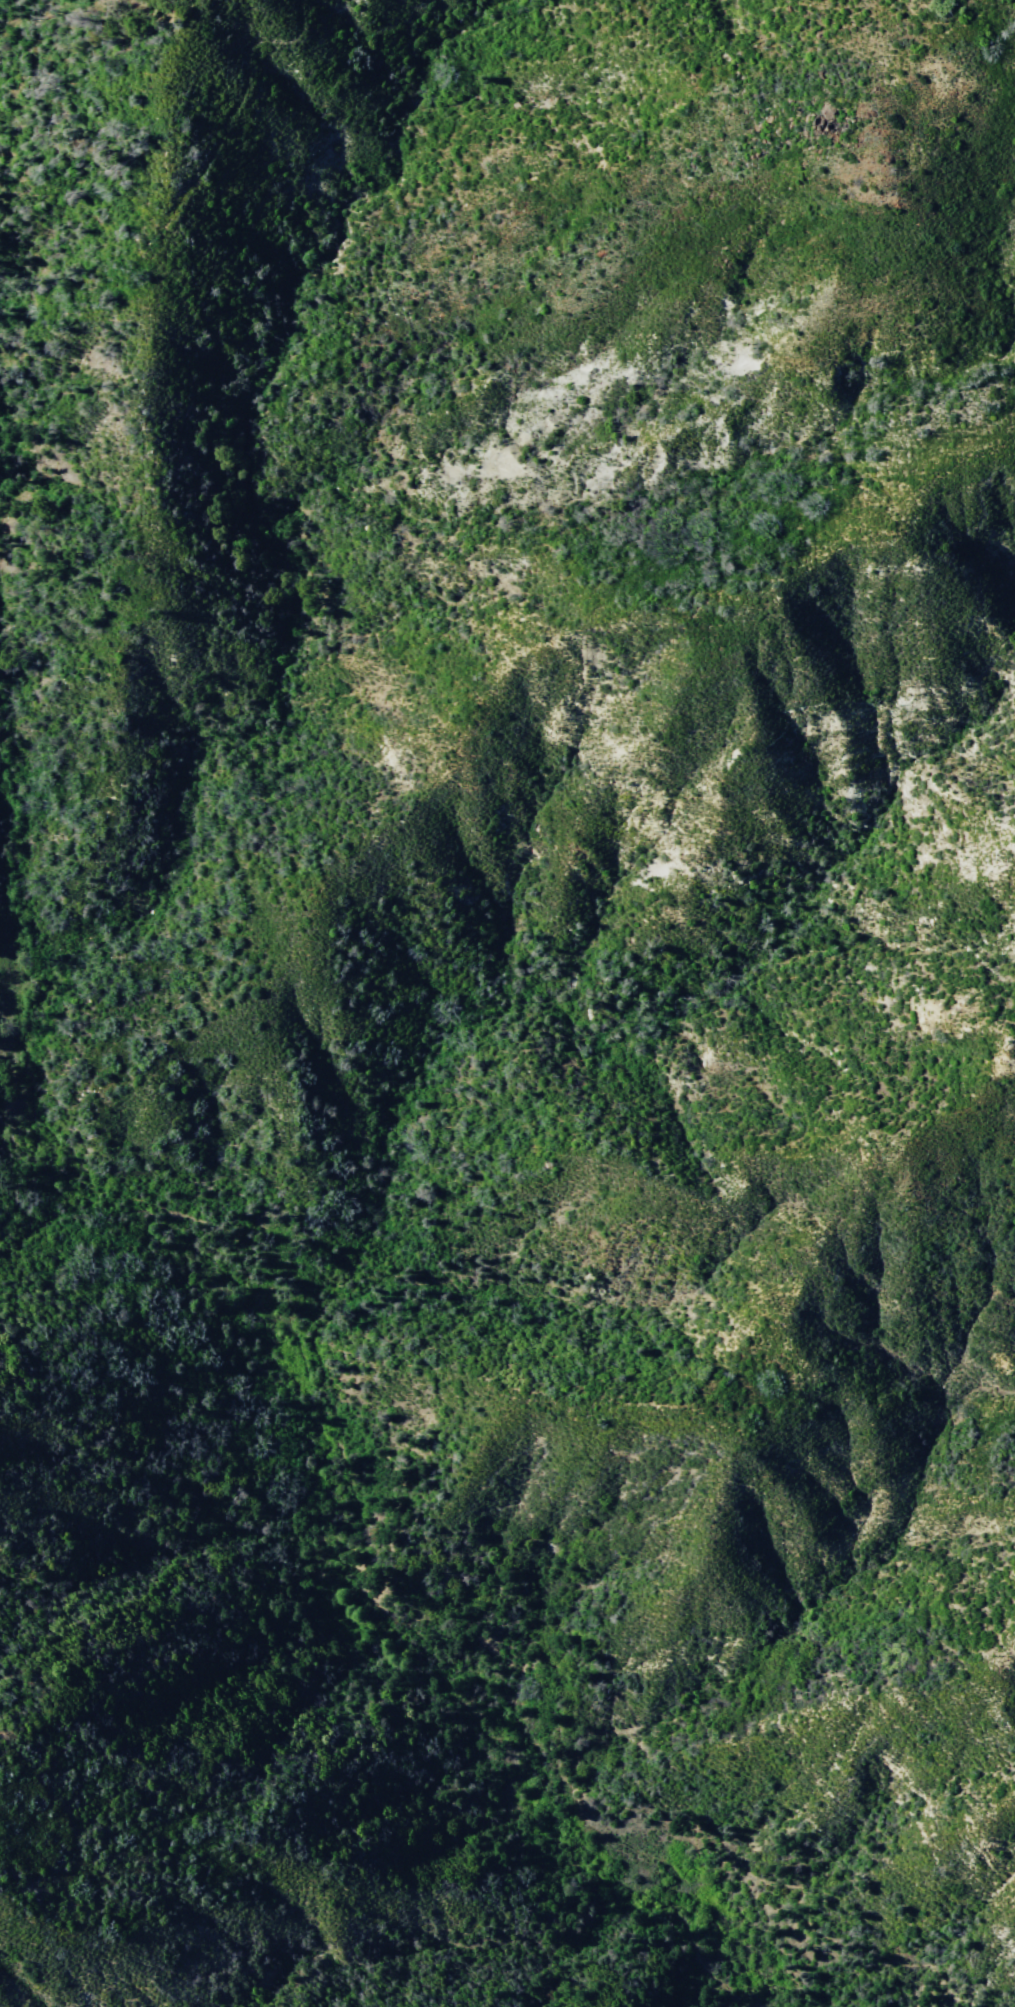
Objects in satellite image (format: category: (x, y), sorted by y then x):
road: (162, 212)
road: (6, 589)
road: (335, 1486)
road: (829, 1912)
road: (696, 1948)

